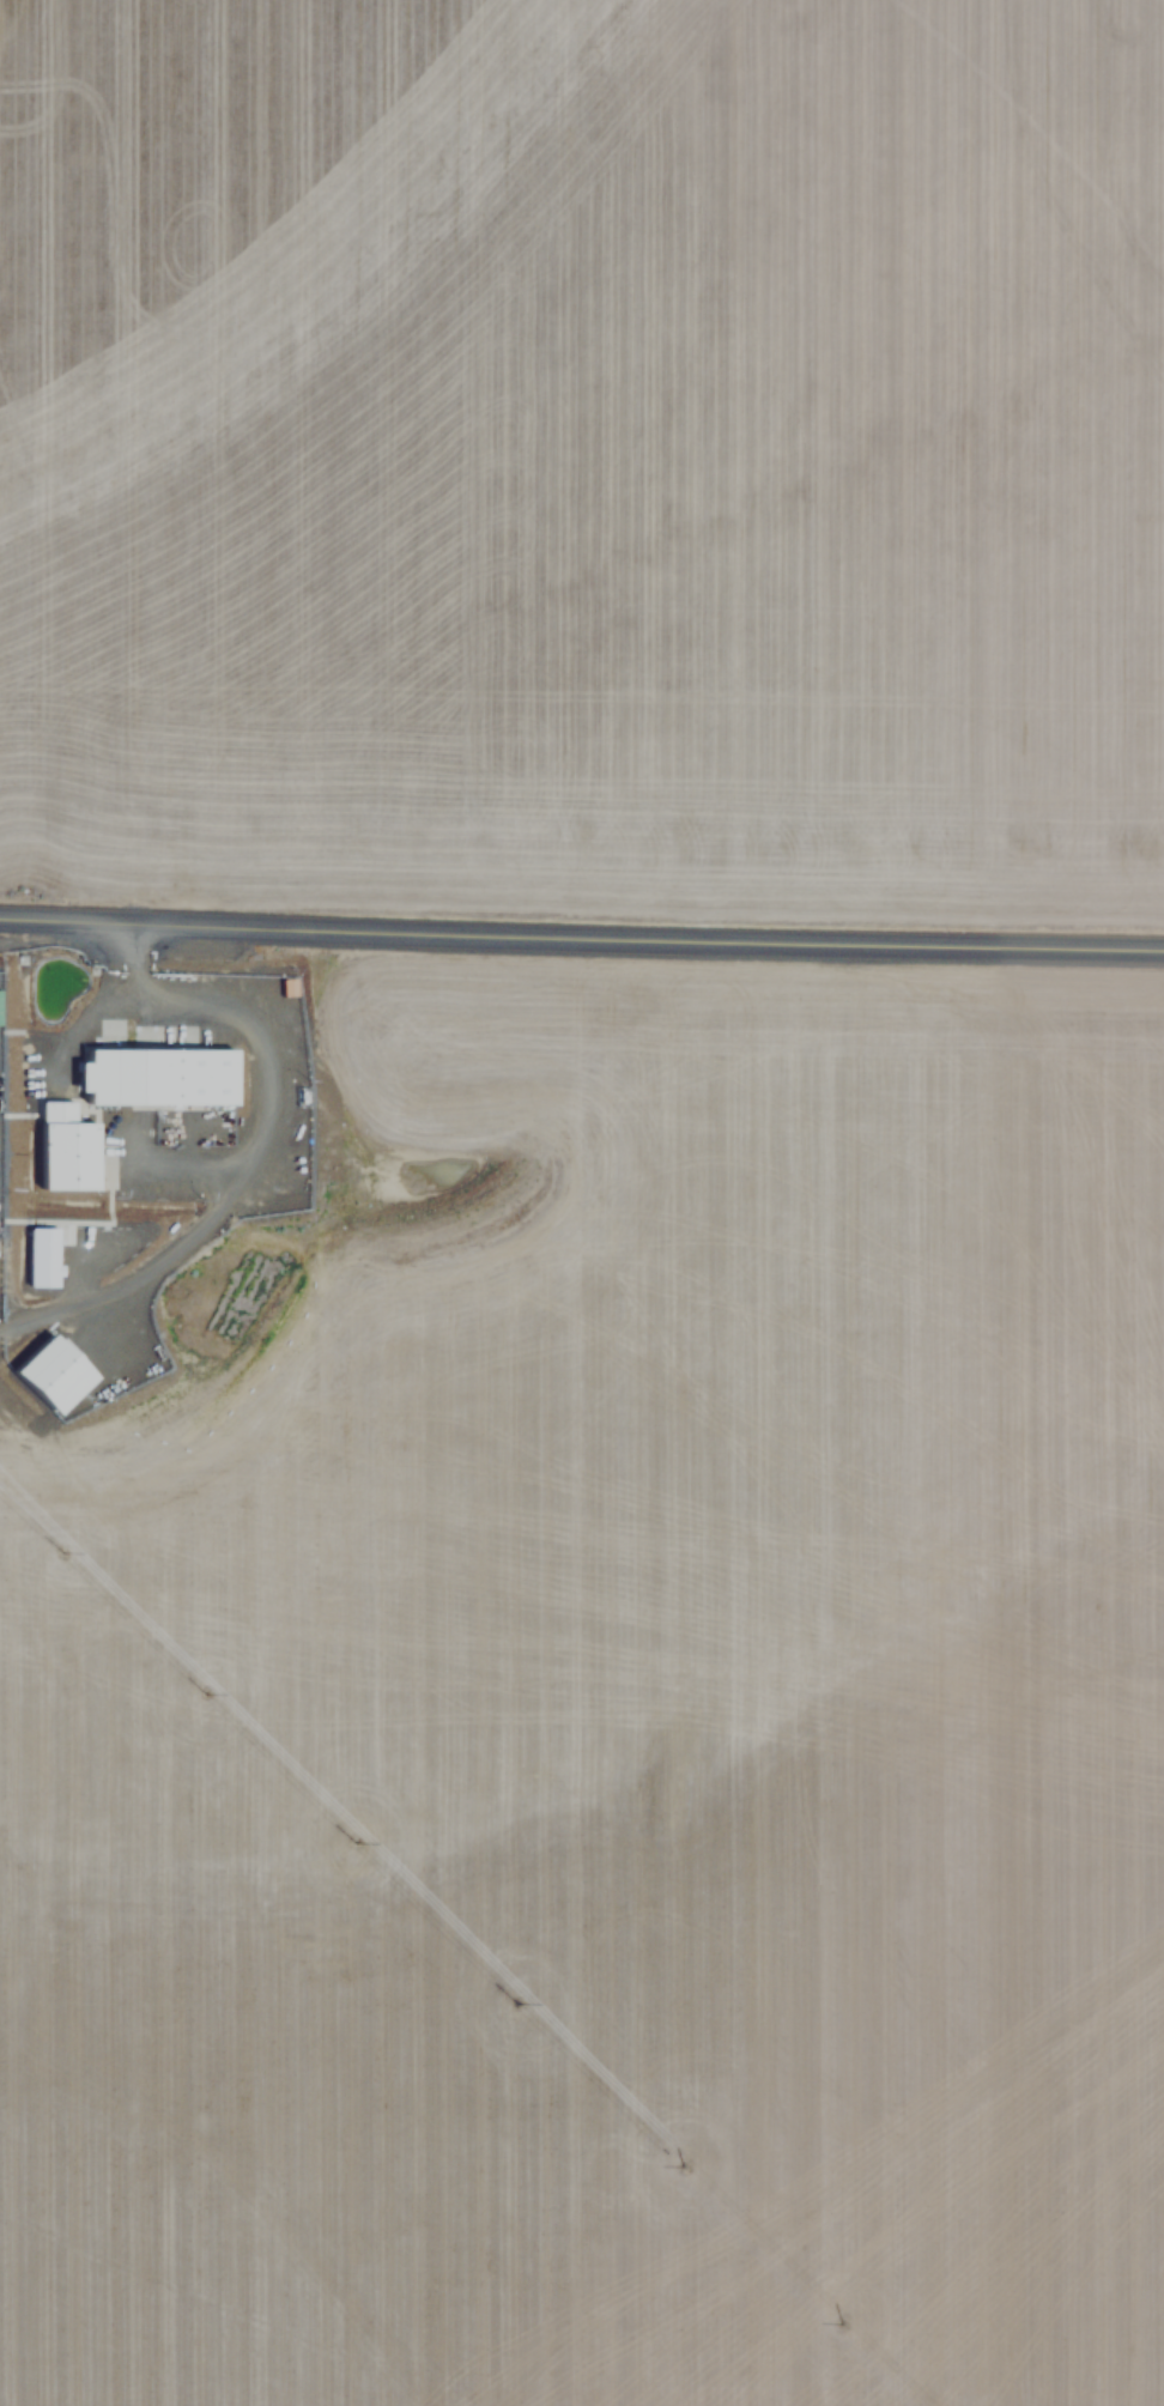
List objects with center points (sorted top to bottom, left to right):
road: (581, 929)
building: (163, 1075)
building: (71, 1149)
power substation: (0, 1150)
building: (44, 1256)
building: (57, 1372)

